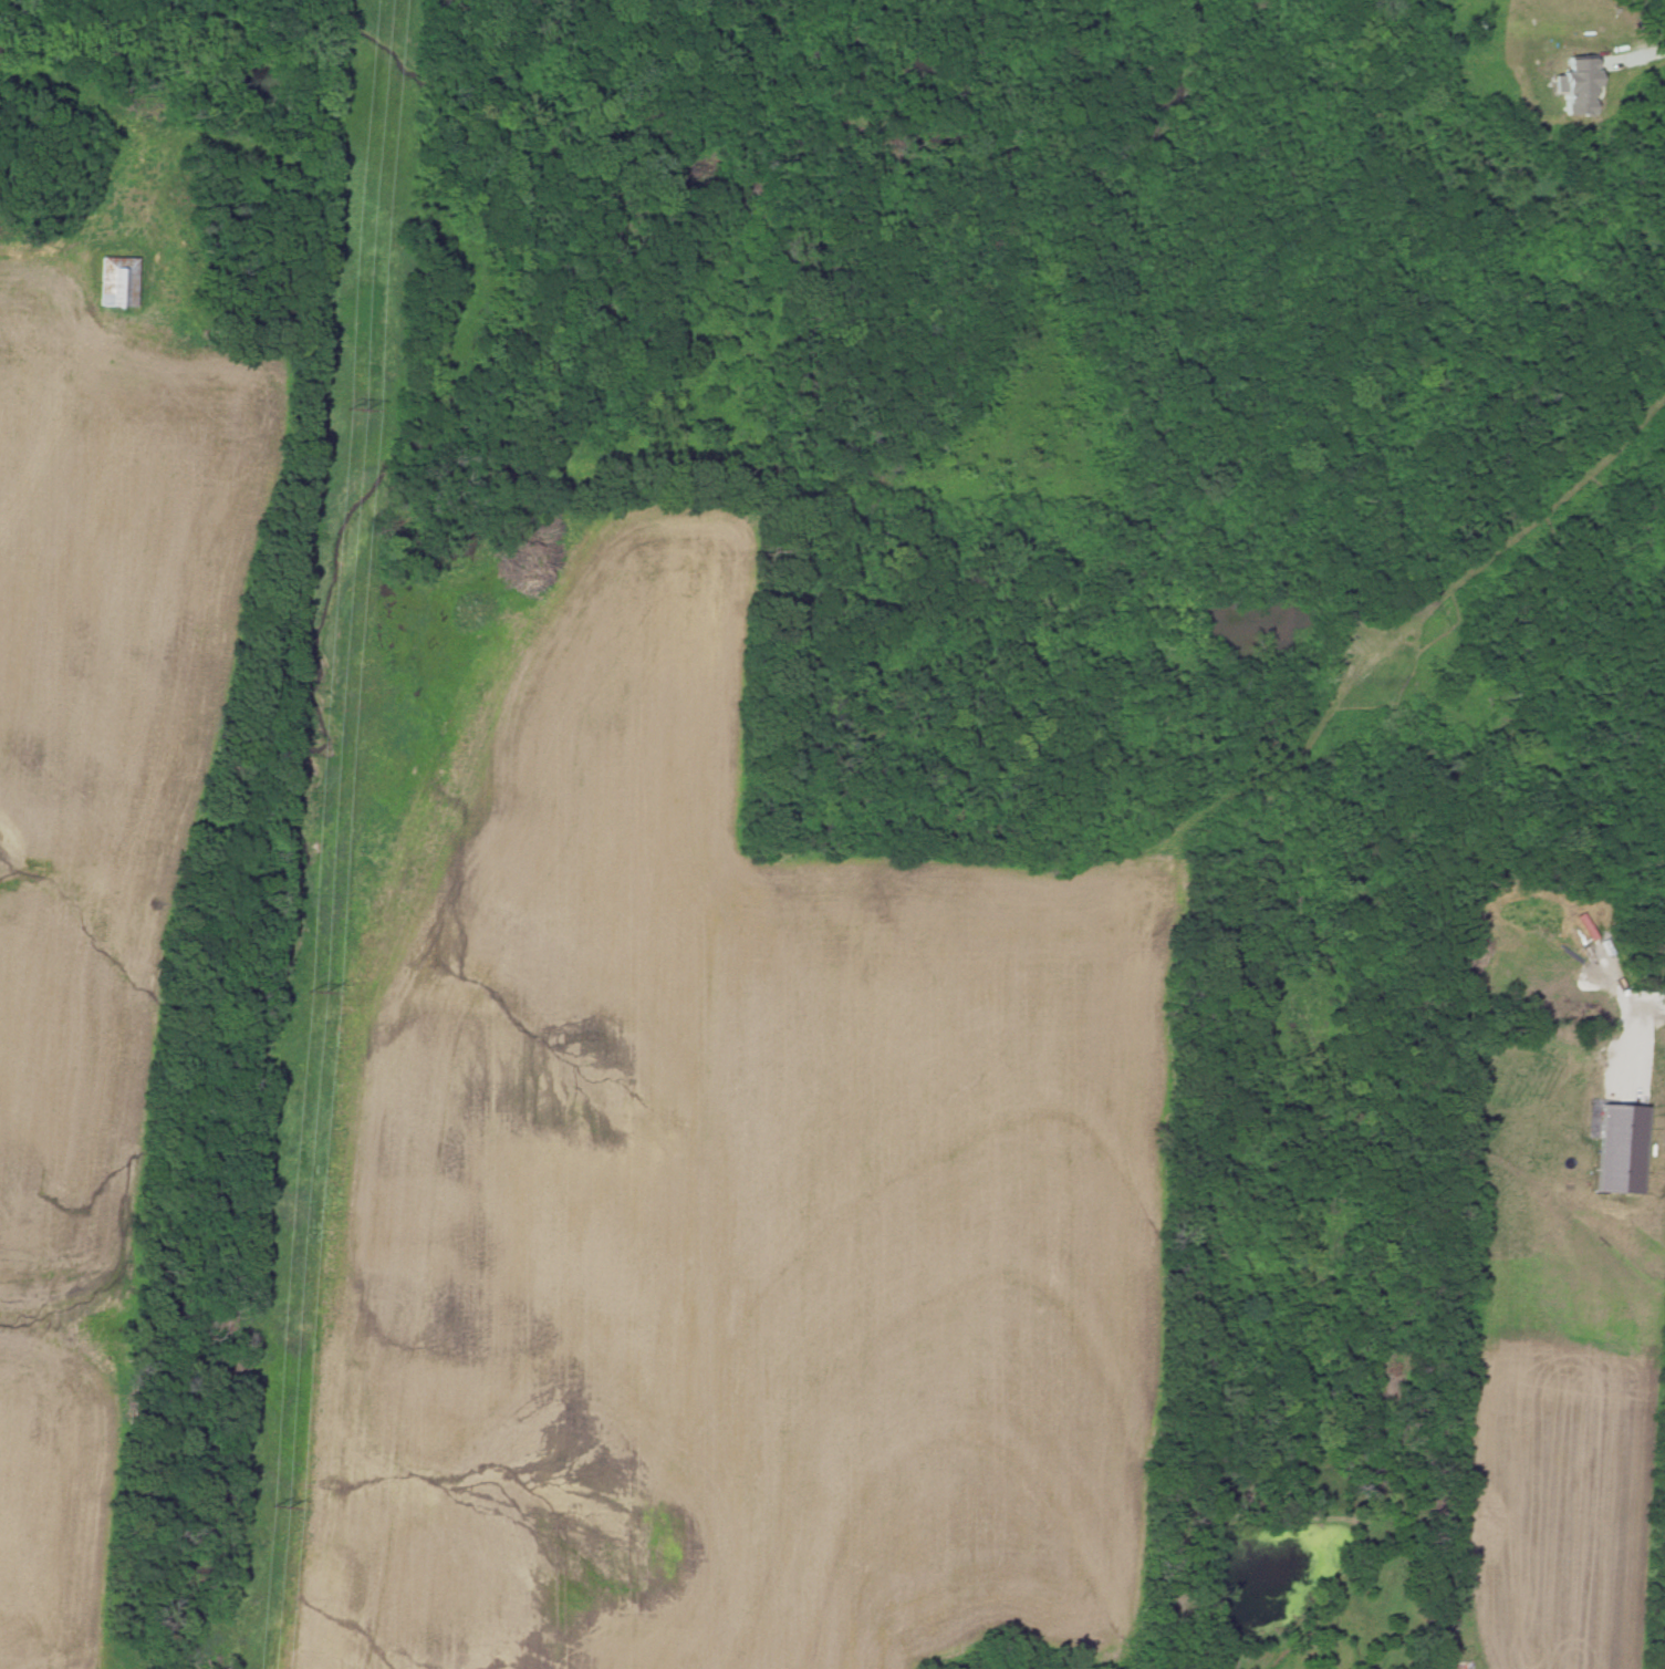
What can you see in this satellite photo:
road: (1636, 51)
building: (1575, 85)
road: (37, 251)
building: (116, 281)
power tower: (362, 410)
crop: (123, 768)
power tower: (324, 994)
building: (1620, 1148)
crop: (751, 1200)
crop: (1568, 1356)
crop: (66, 1512)
power tower: (285, 1513)

